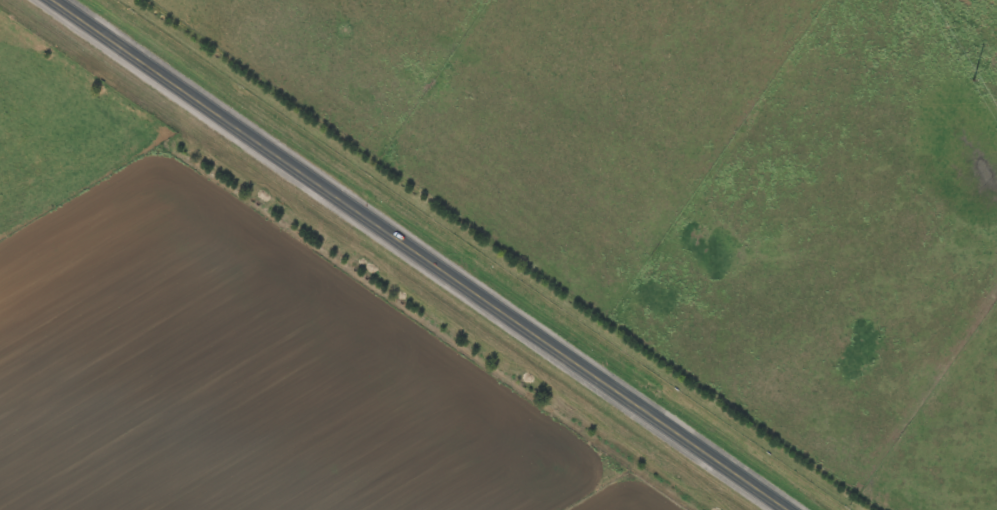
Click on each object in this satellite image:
power tower: (972, 80)
road: (425, 255)

